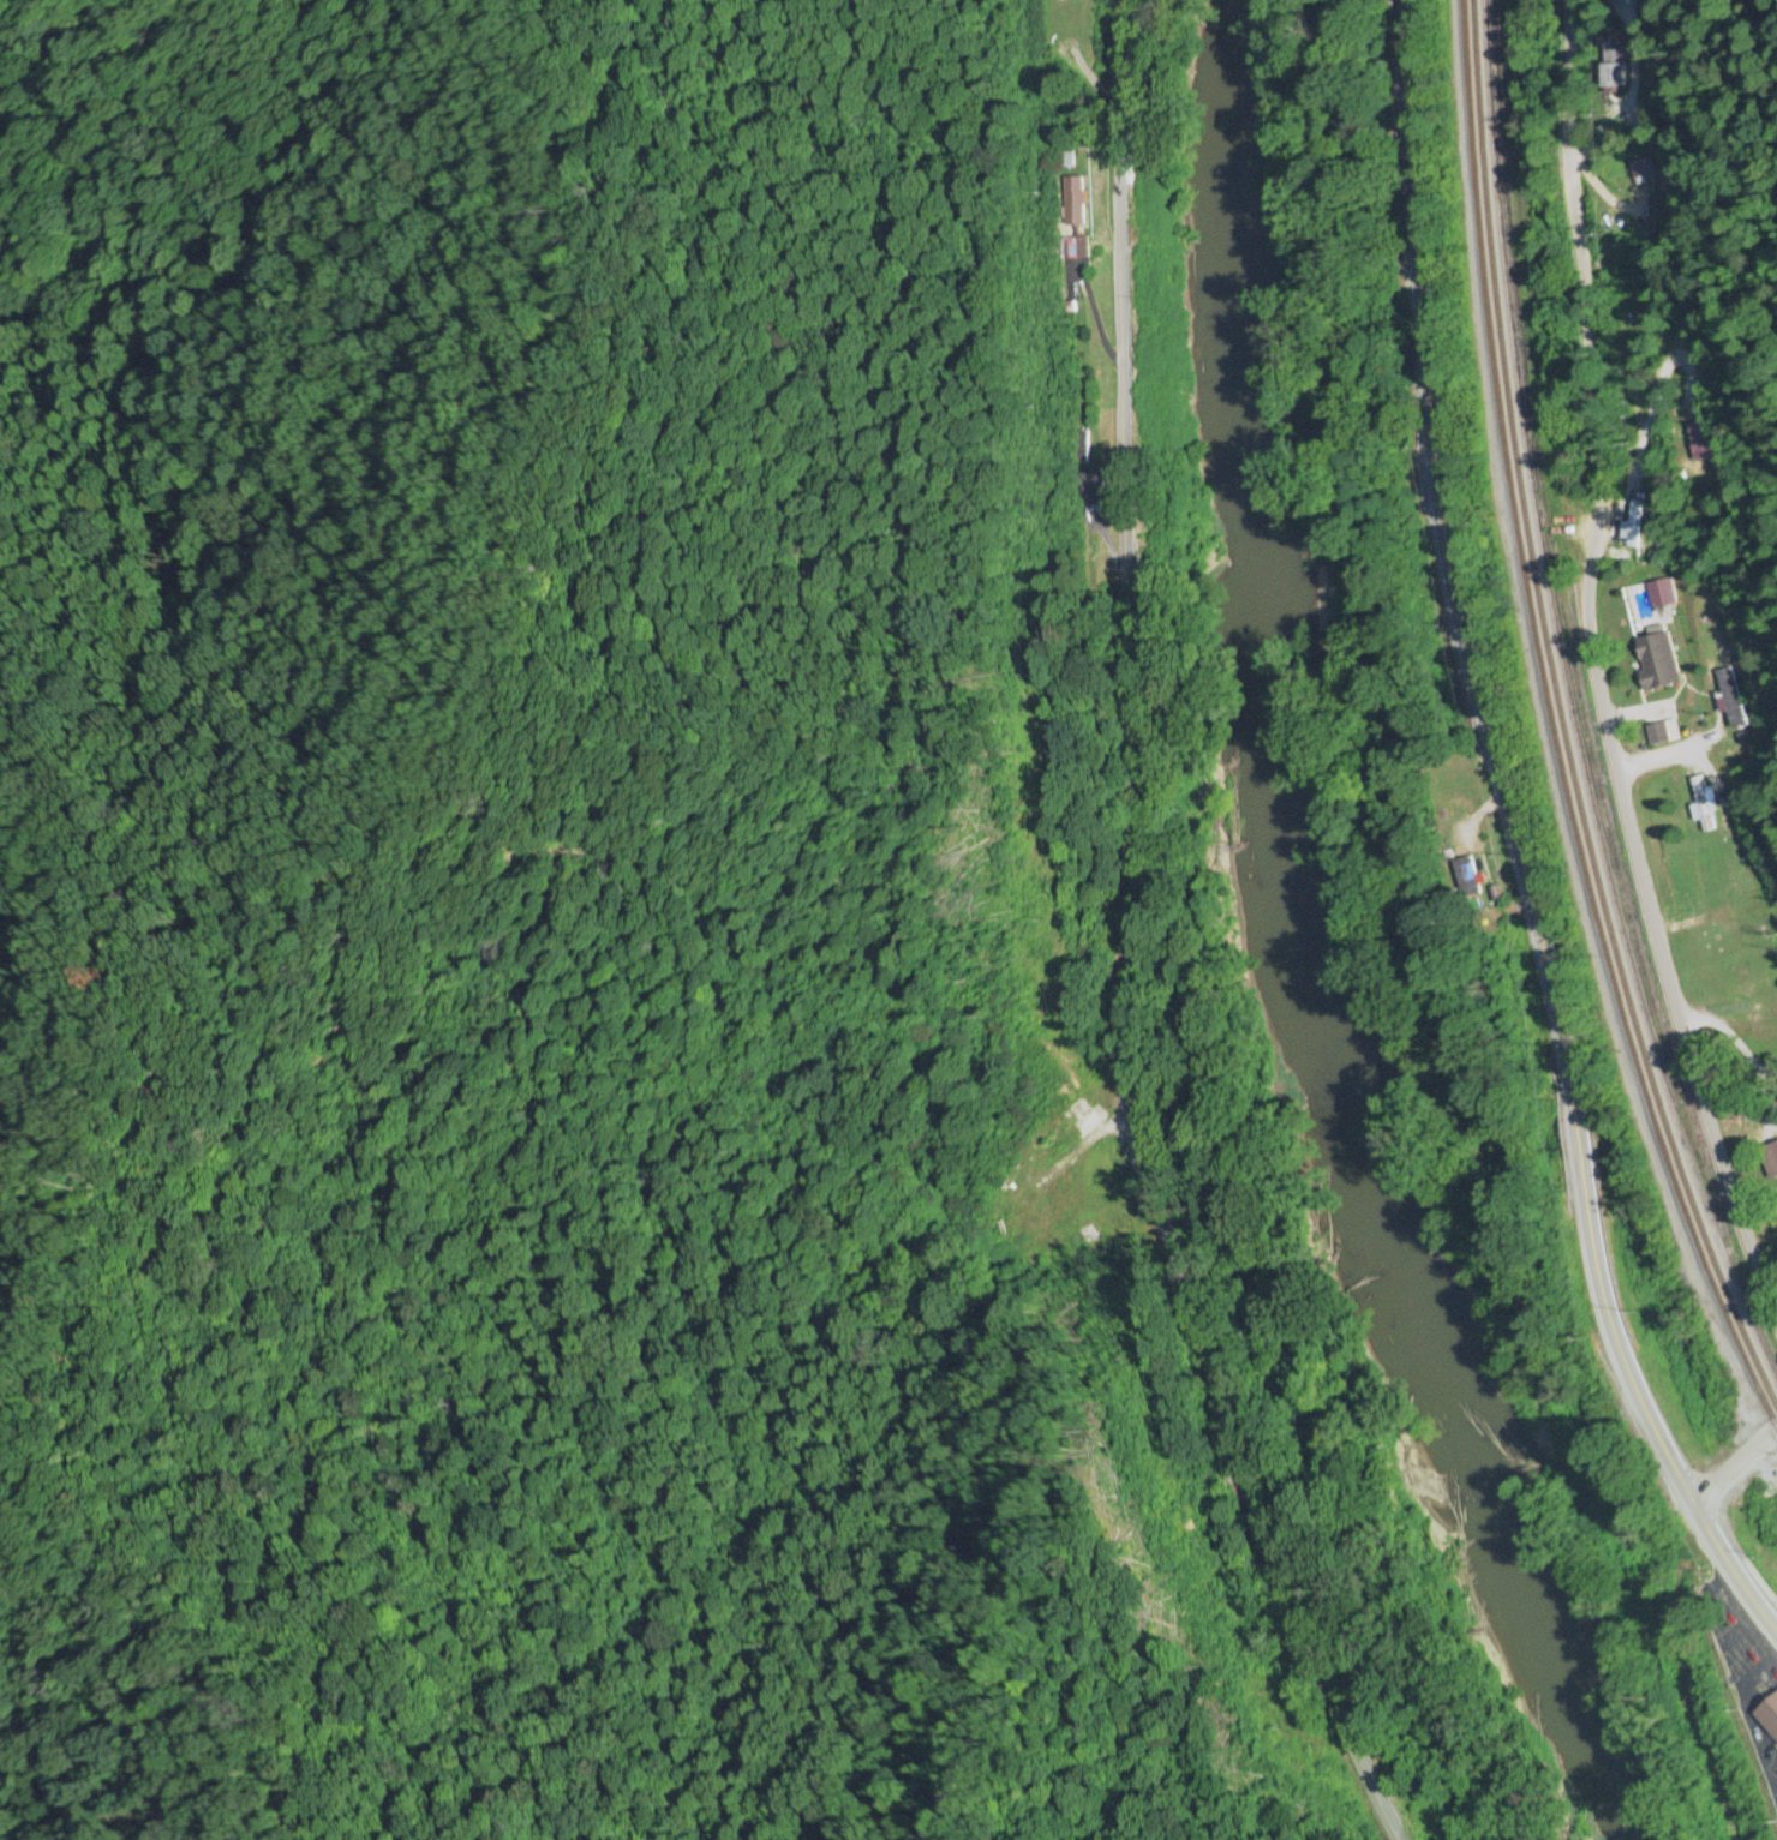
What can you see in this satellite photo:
building: (1061, 16)
building: (1613, 68)
building: (1635, 176)
road: (1581, 263)
building: (1676, 364)
building: (1632, 522)
building: (1657, 588)
building: (1656, 661)
building: (1727, 697)
railway: (1567, 731)
building: (1657, 735)
building: (1703, 803)
road: (1633, 819)
road: (1514, 840)
building: (1466, 877)
road: (1141, 943)
river: (1327, 949)
building: (1772, 1001)
building: (1046, 1146)
building: (1770, 1159)
building: (1018, 1213)
building: (1088, 1239)
road: (1733, 1467)
building: (1769, 1715)

